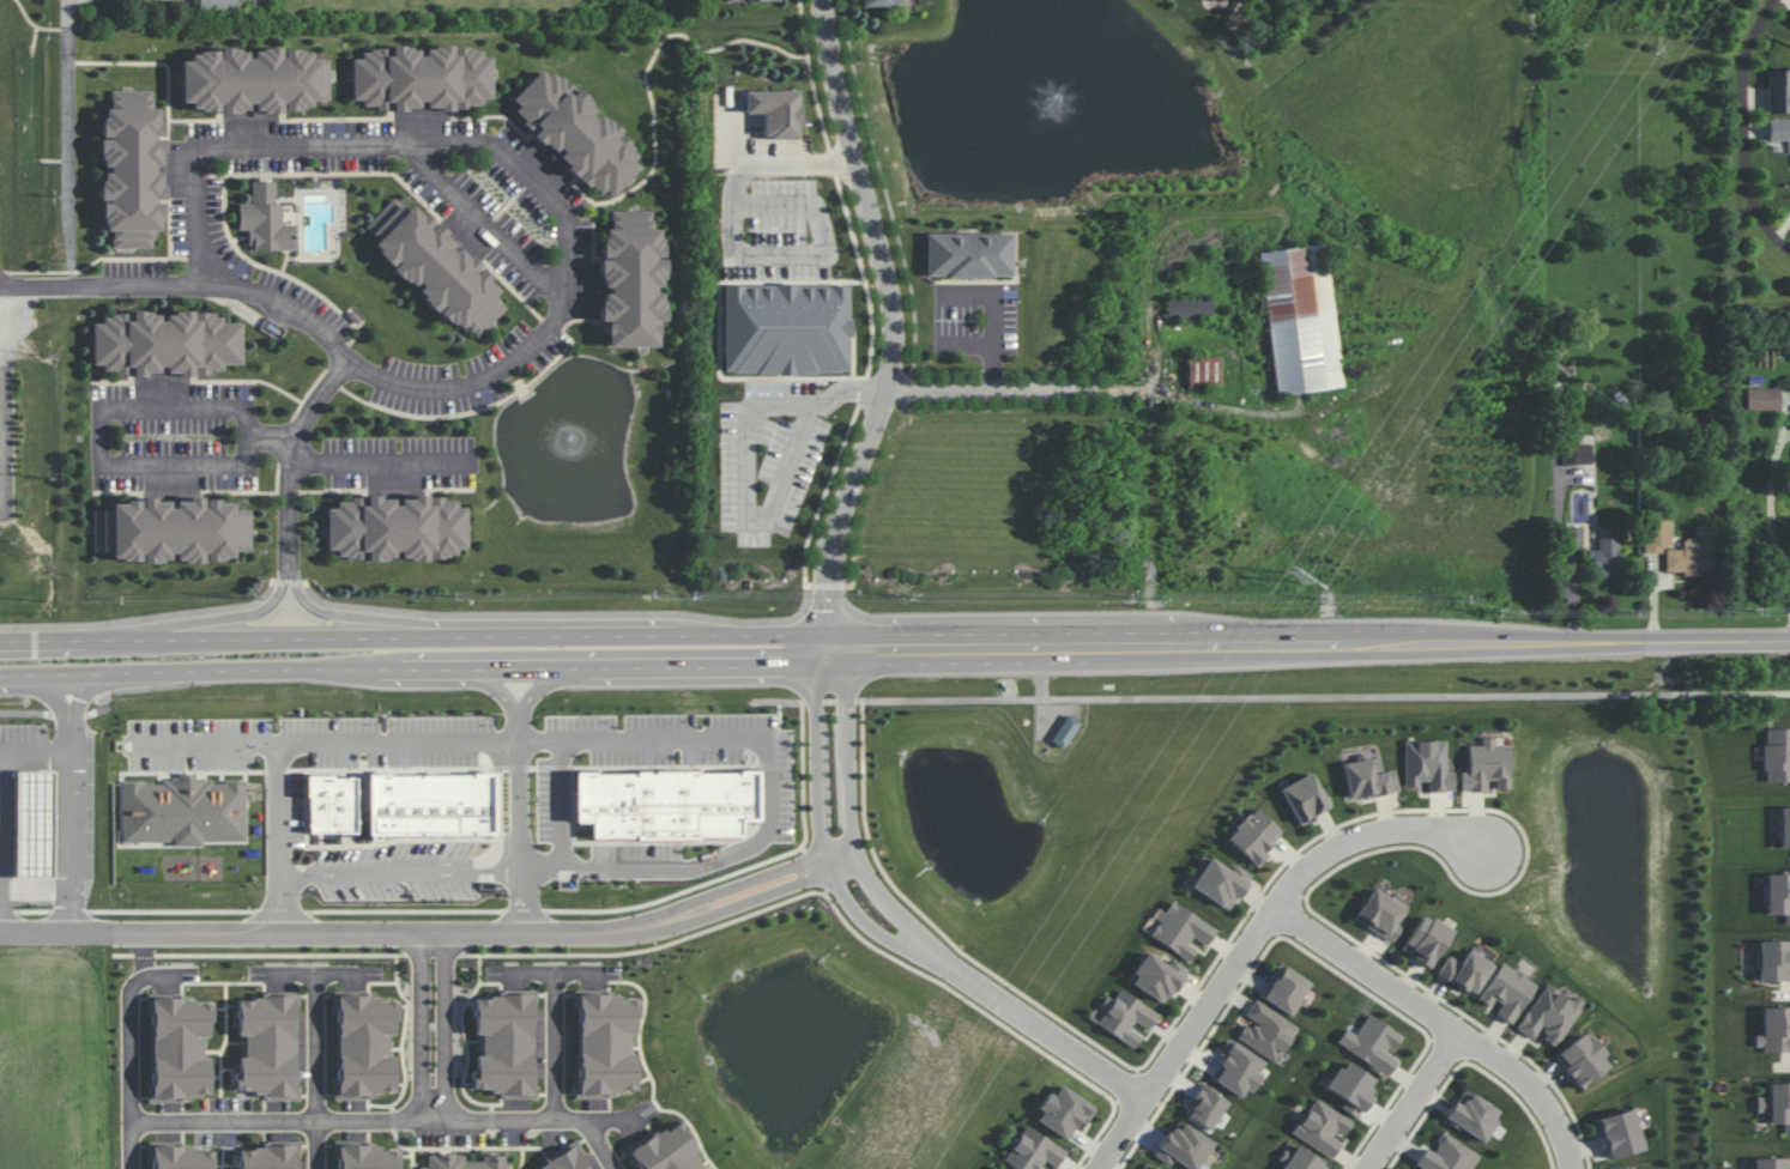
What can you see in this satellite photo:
building: (749, 0)
building: (882, 2)
building: (218, 4)
building: (422, 78)
building: (254, 80)
building: (1778, 91)
building: (775, 111)
road: (1746, 127)
building: (1778, 129)
road: (71, 131)
building: (576, 133)
road: (502, 155)
building: (132, 169)
building: (265, 219)
road: (484, 222)
road: (736, 254)
building: (968, 254)
building: (435, 267)
building: (631, 279)
building: (1189, 309)
road: (296, 310)
building: (1300, 319)
road: (894, 327)
building: (786, 328)
building: (165, 343)
building: (1203, 371)
road: (1030, 393)
building: (1762, 399)
road: (98, 438)
road: (274, 438)
building: (1577, 454)
road: (744, 458)
road: (381, 461)
road: (1776, 509)
building: (395, 528)
building: (171, 529)
building: (1574, 535)
building: (1604, 558)
power tower: (1295, 580)
road: (289, 582)
road: (1566, 596)
road: (563, 612)
road: (141, 618)
road: (211, 619)
road: (388, 619)
road: (733, 636)
road: (316, 640)
road: (1310, 644)
road: (417, 671)
road: (1271, 696)
road: (509, 711)
building: (1065, 731)
road: (697, 743)
road: (37, 752)
building: (1777, 755)
building: (1427, 765)
building: (1486, 765)
road: (273, 774)
building: (1367, 777)
building: (1304, 798)
building: (430, 802)
building: (331, 804)
building: (666, 804)
road: (74, 805)
road: (560, 807)
building: (183, 811)
building: (34, 823)
road: (512, 823)
building: (1784, 828)
building: (1253, 836)
road: (0, 861)
road: (394, 873)
building: (1220, 883)
building: (1778, 895)
building: (1380, 915)
road: (2, 916)
road: (899, 928)
building: (1181, 931)
road: (427, 933)
road: (1256, 937)
building: (1426, 940)
road: (140, 955)
building: (1773, 961)
road: (555, 967)
road: (315, 968)
building: (1467, 970)
road: (158, 973)
building: (1157, 977)
building: (1284, 989)
building: (1507, 992)
building: (1549, 1016)
building: (1125, 1017)
road: (1443, 1022)
road: (427, 1025)
building: (1773, 1030)
building: (1265, 1031)
road: (551, 1042)
building: (504, 1043)
building: (606, 1044)
building: (1374, 1044)
building: (268, 1046)
building: (365, 1047)
building: (180, 1048)
building: (1582, 1060)
road: (309, 1068)
building: (1238, 1070)
road: (127, 1071)
building: (1350, 1088)
road: (1411, 1101)
building: (1776, 1104)
building: (1205, 1107)
building: (1063, 1112)
road: (628, 1115)
building: (1472, 1115)
road: (339, 1117)
road: (603, 1121)
road: (592, 1128)
building: (1322, 1128)
building: (1620, 1133)
building: (1183, 1146)
building: (667, 1150)
building: (1033, 1152)
building: (268, 1156)
building: (1446, 1156)
building: (368, 1157)
building: (182, 1158)
building: (1299, 1159)
building: (564, 1161)
building: (465, 1162)
building: (1770, 1163)
building: (1147, 1165)
building: (1641, 1168)

